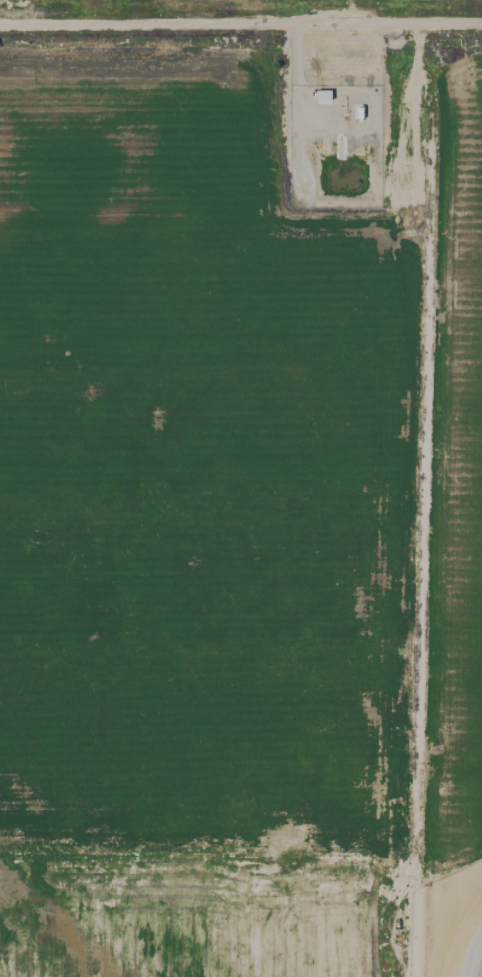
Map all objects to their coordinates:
road: (241, 12)
road: (418, 499)

